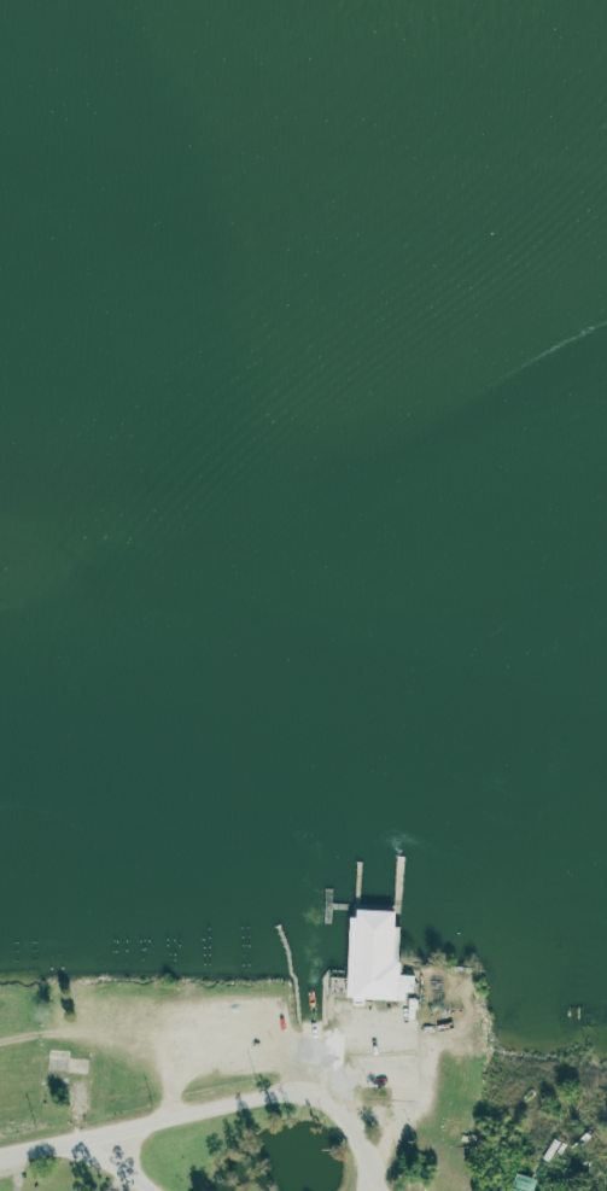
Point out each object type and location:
building: (373, 957)
park: (129, 1098)
road: (216, 1109)
road: (123, 1164)
road: (35, 1169)
building: (519, 1183)
road: (378, 1189)

